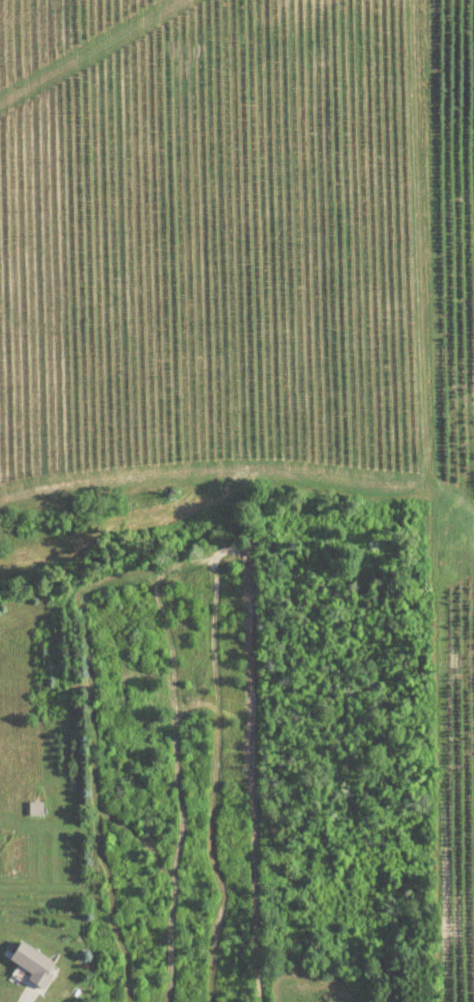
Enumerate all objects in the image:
building: (36, 809)
building: (33, 965)
road: (28, 1000)

